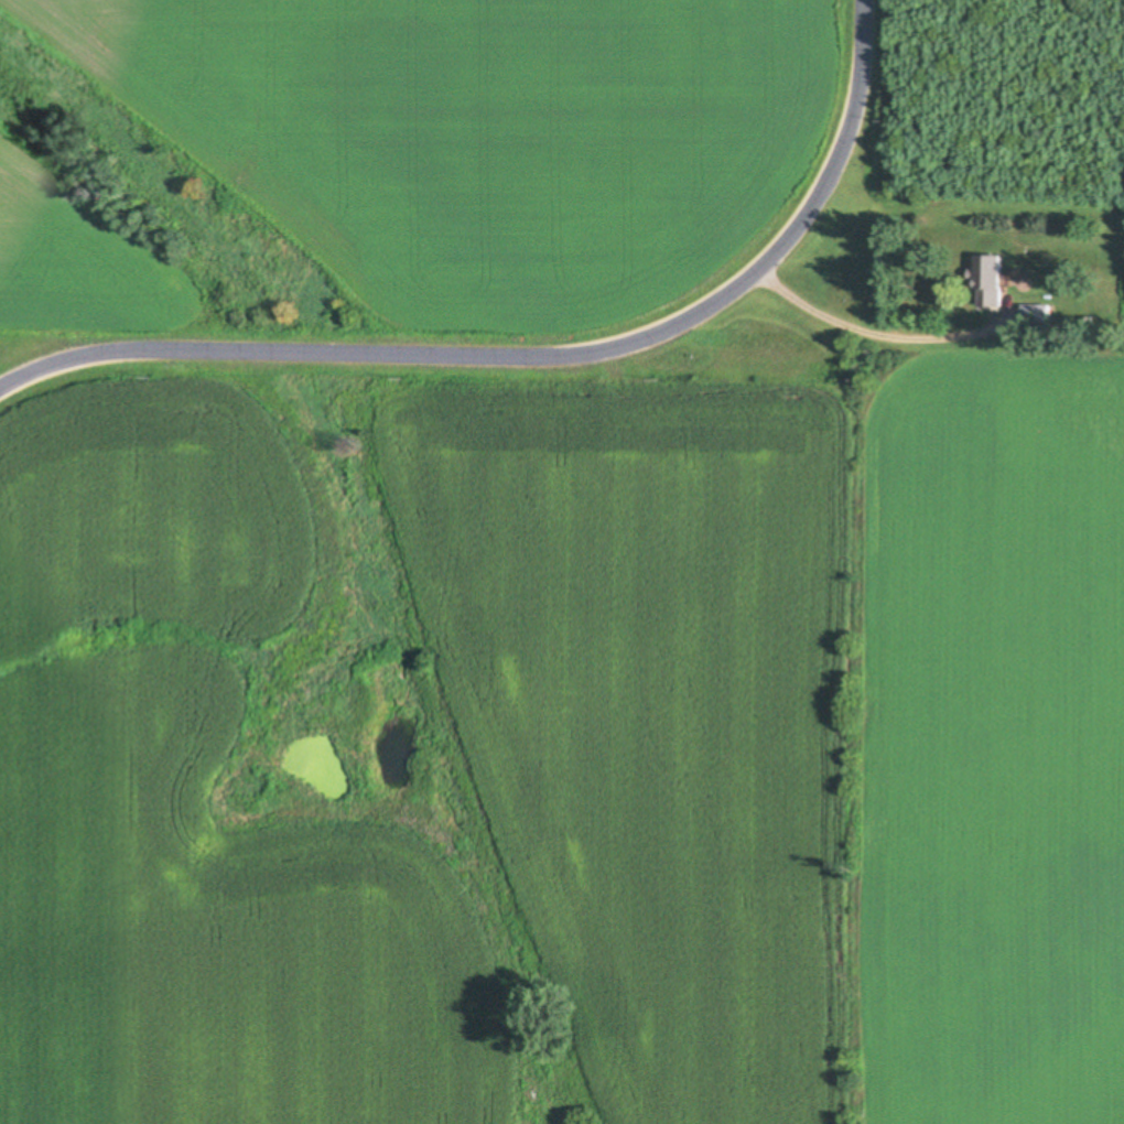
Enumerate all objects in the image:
crop: (396, 163)
building: (991, 282)
building: (1037, 318)
road: (871, 332)
road: (531, 349)
crop: (565, 739)

